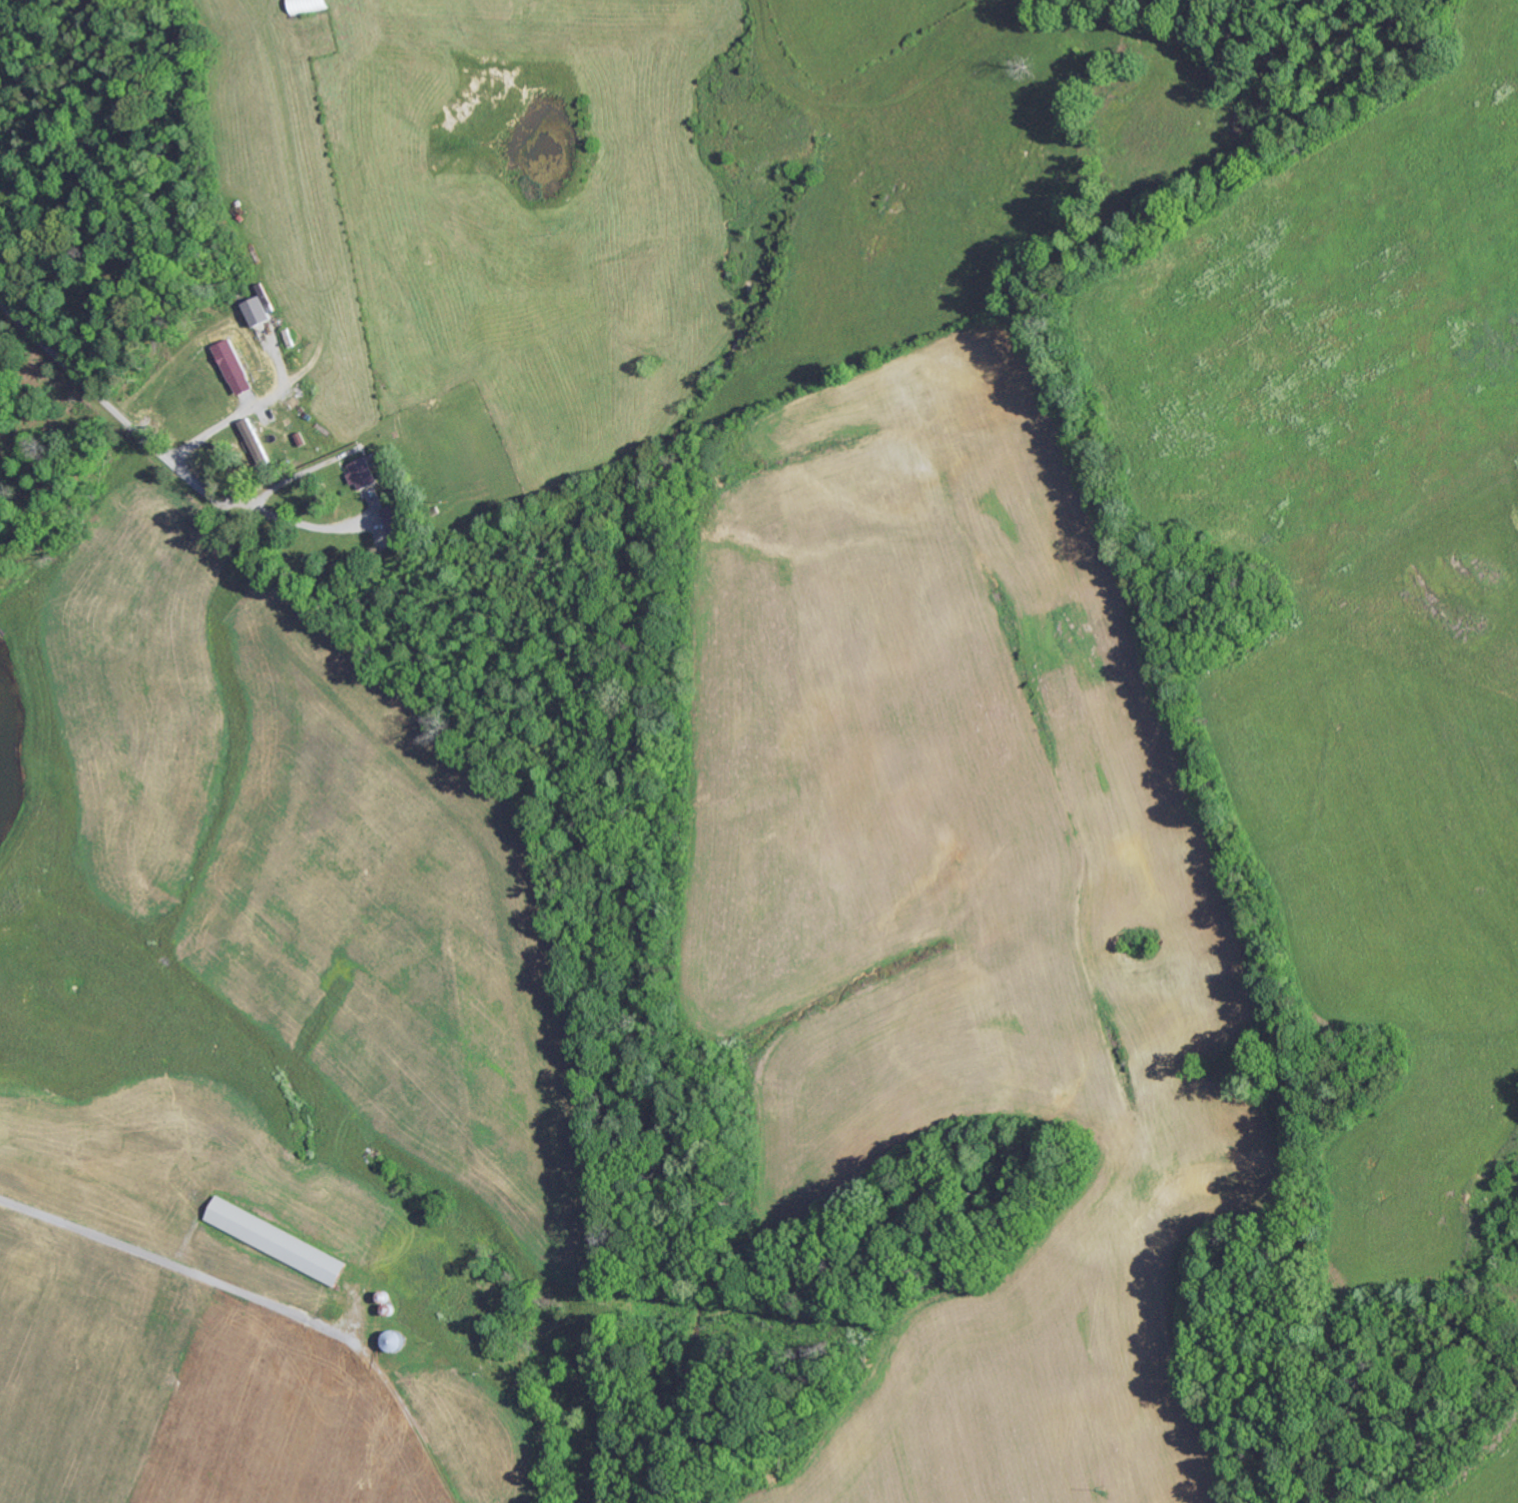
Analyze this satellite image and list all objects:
building: (258, 311)
building: (233, 366)
road: (99, 397)
building: (363, 473)
building: (395, 518)
building: (277, 1240)
road: (182, 1267)

